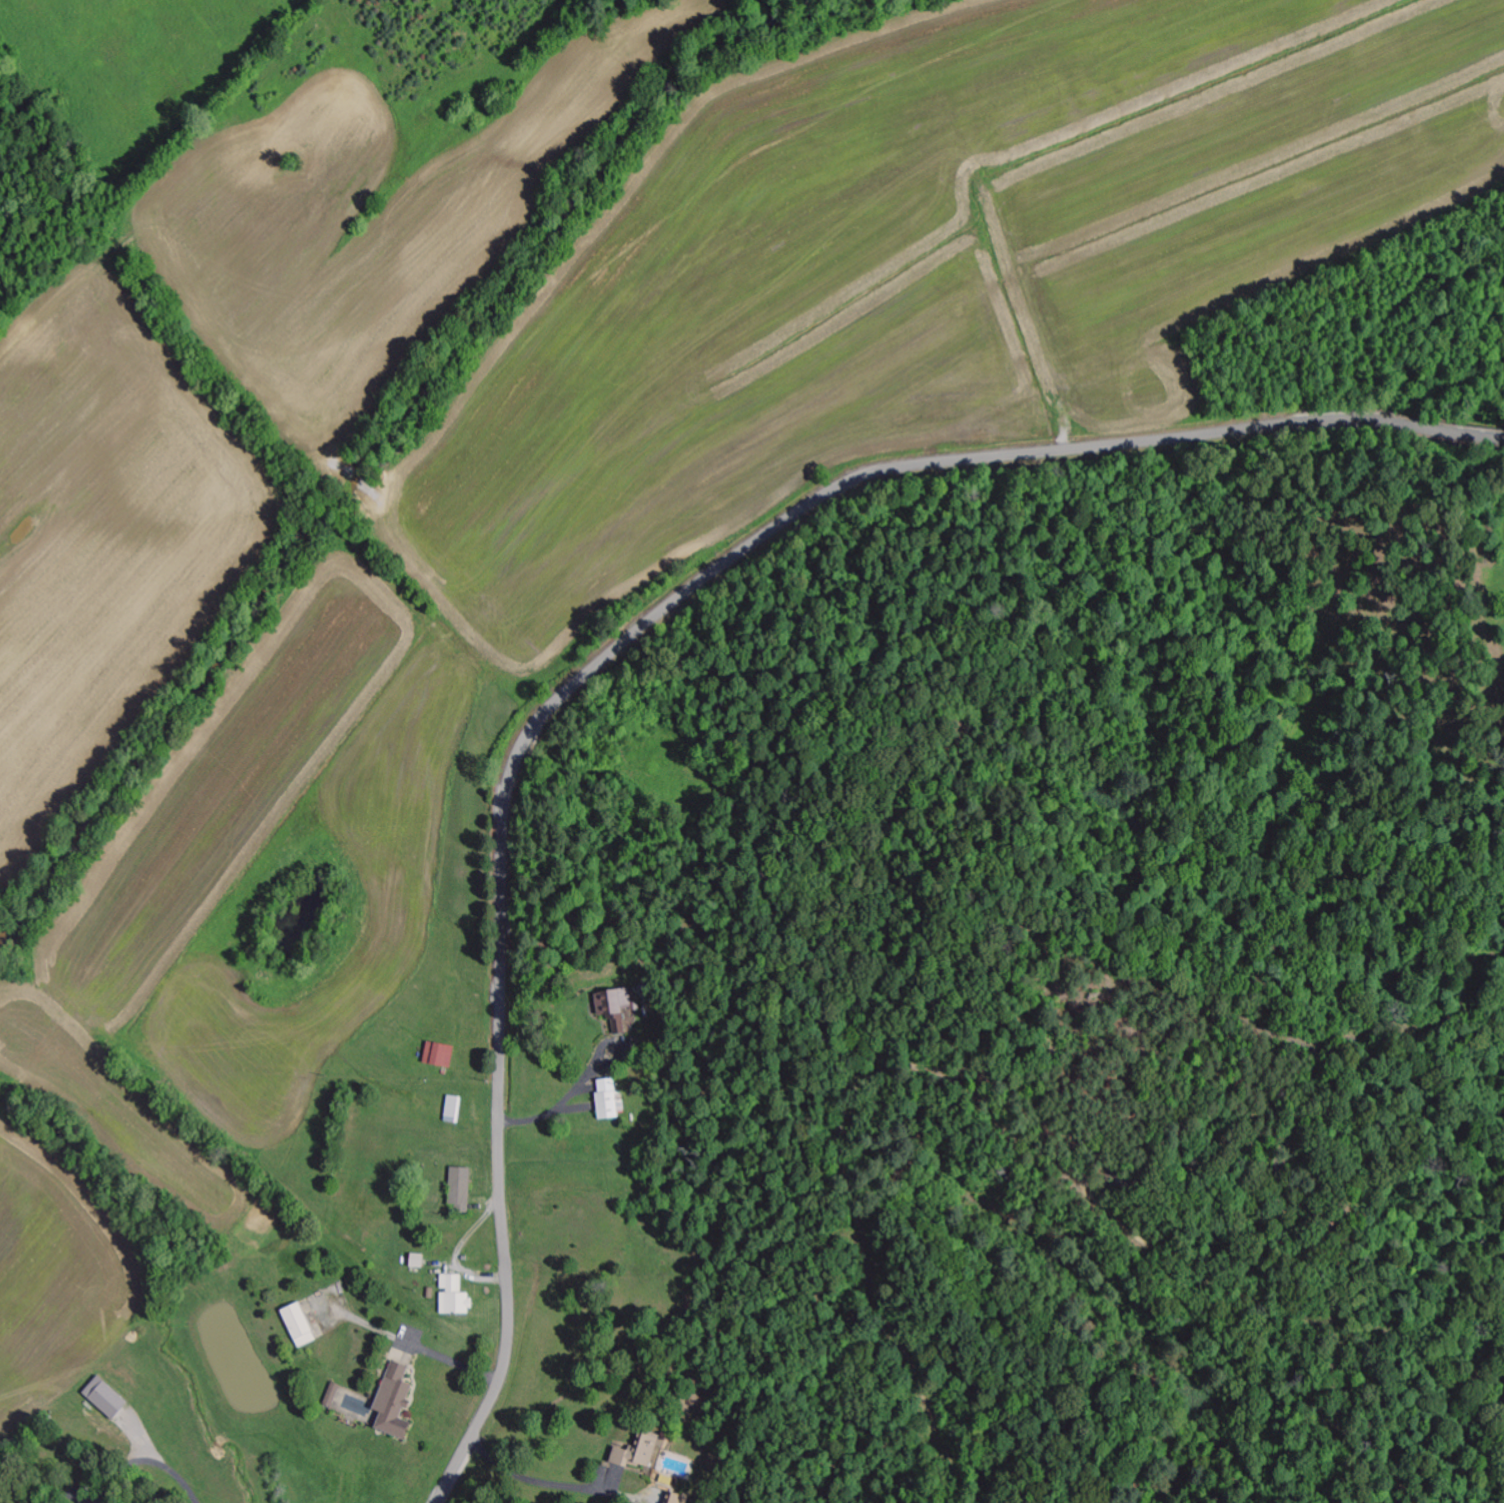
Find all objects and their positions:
road: (631, 639)
building: (617, 1009)
building: (438, 1054)
building: (609, 1099)
building: (453, 1109)
building: (460, 1190)
building: (416, 1261)
building: (454, 1296)
building: (298, 1325)
building: (332, 1395)
building: (104, 1398)
building: (393, 1402)
building: (636, 1452)

